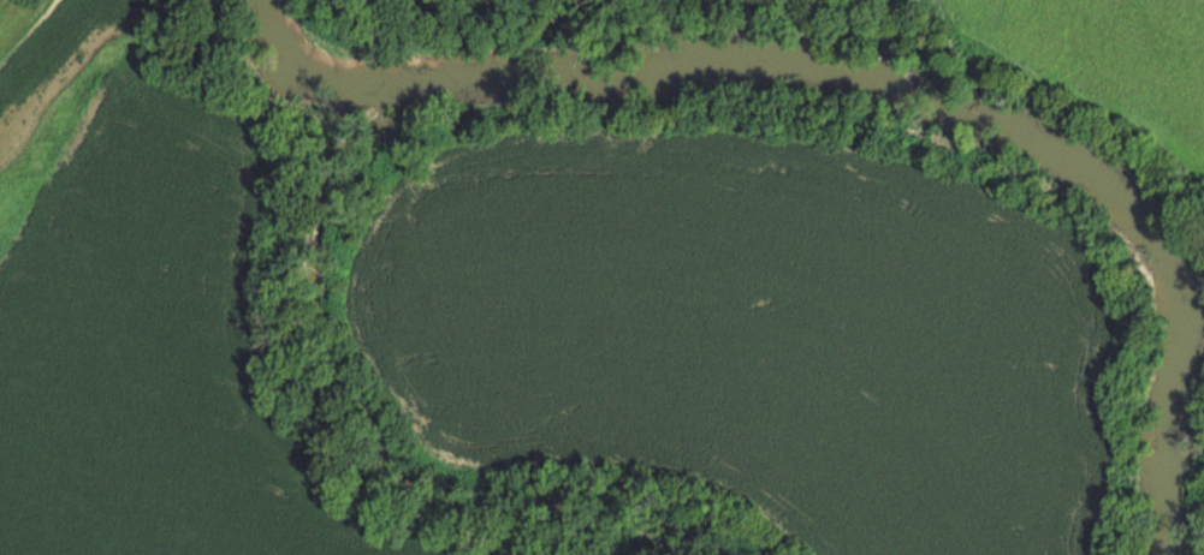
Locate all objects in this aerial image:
river: (874, 85)

